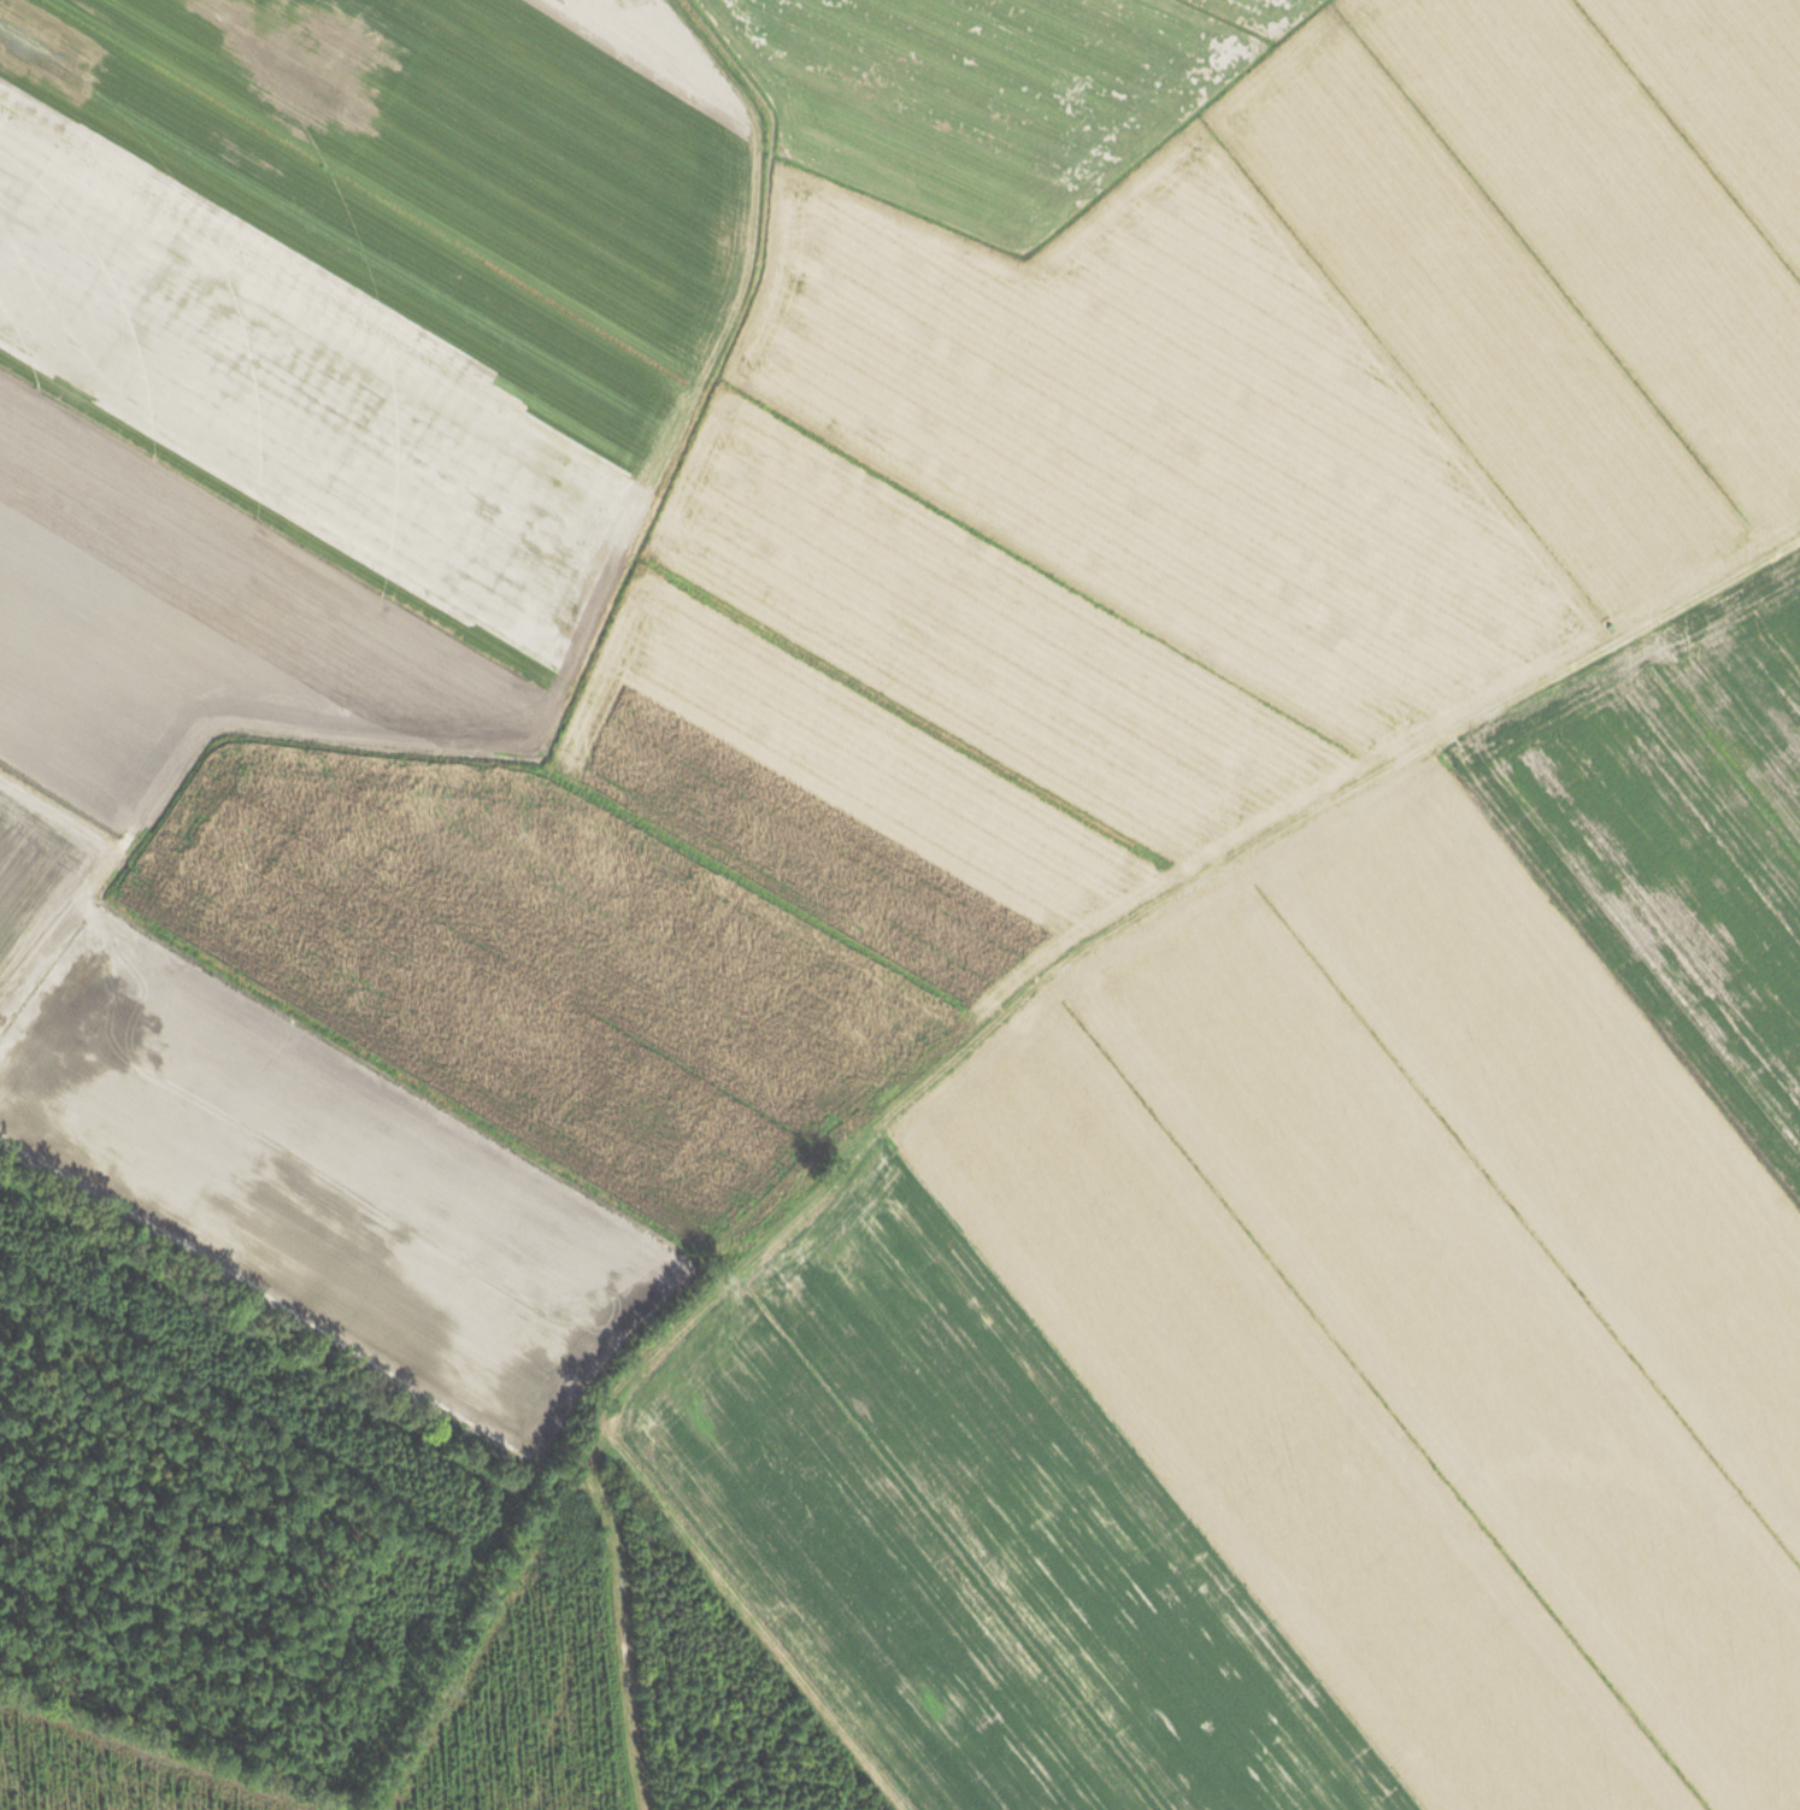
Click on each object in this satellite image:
building: (75, 972)

